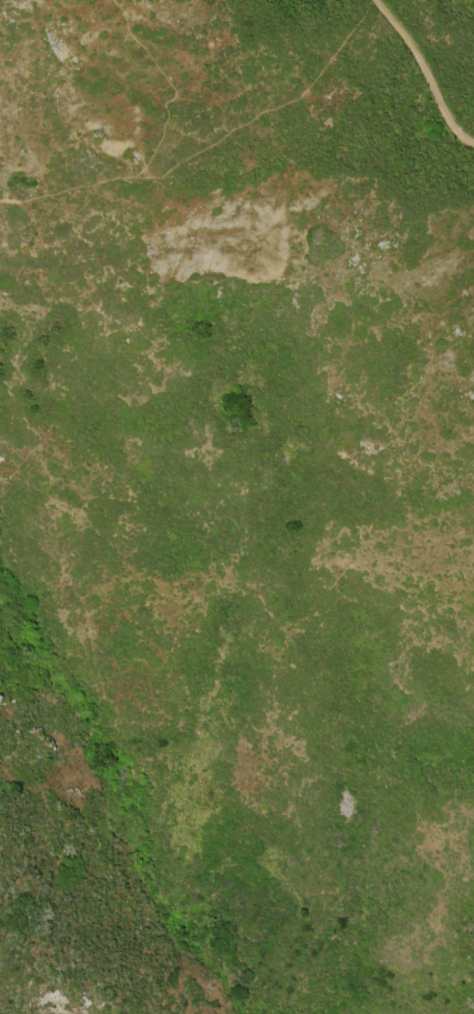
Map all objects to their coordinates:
road: (425, 74)

